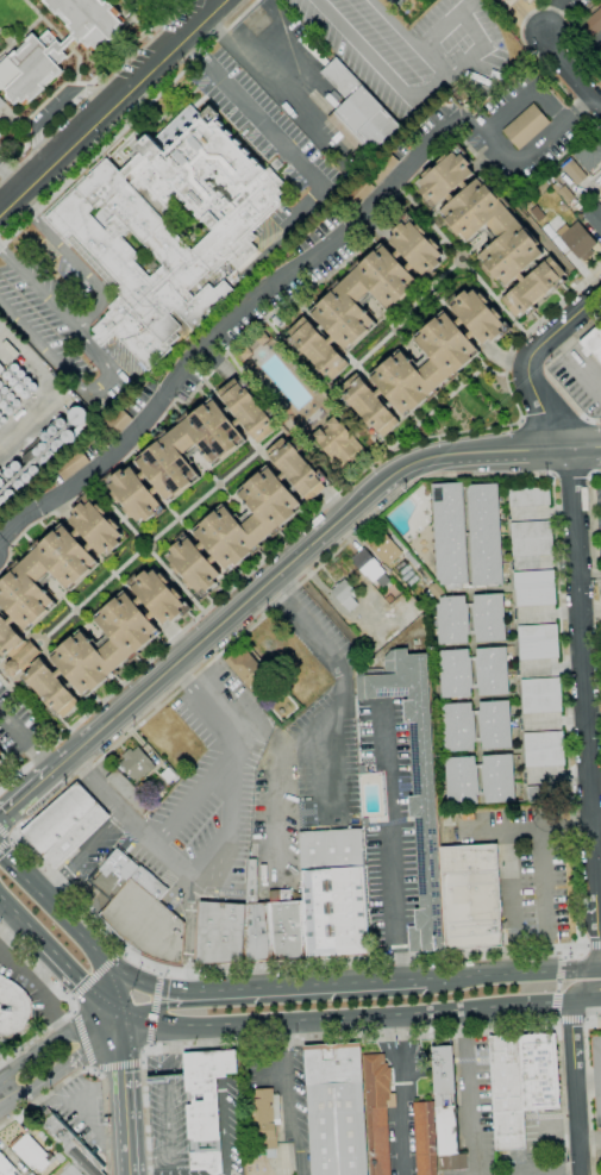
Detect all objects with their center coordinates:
building: (394, 1)
building: (532, 1)
building: (507, 2)
parking lot: (148, 8)
road: (547, 14)
building: (88, 19)
building: (591, 24)
road: (470, 25)
road: (521, 27)
road: (240, 38)
parking lot: (413, 49)
building: (32, 67)
road: (570, 71)
road: (89, 86)
road: (528, 95)
road: (417, 100)
building: (1, 102)
road: (52, 105)
road: (109, 105)
road: (583, 107)
flagpole: (2, 114)
building: (359, 114)
road: (129, 121)
building: (526, 126)
road: (271, 132)
building: (590, 154)
road: (515, 164)
building: (382, 167)
building: (574, 171)
road: (12, 174)
building: (357, 193)
building: (565, 194)
road: (427, 218)
building: (594, 218)
building: (167, 230)
building: (492, 231)
building: (577, 240)
road: (468, 254)
building: (572, 261)
road: (75, 262)
road: (434, 295)
building: (365, 296)
road: (501, 306)
road: (545, 314)
road: (223, 323)
building: (593, 342)
building: (253, 345)
road: (532, 360)
building: (425, 364)
road: (356, 367)
building: (1, 368)
road: (109, 369)
road: (546, 370)
parking lot: (580, 380)
road: (444, 401)
building: (115, 425)
road: (480, 430)
building: (339, 444)
road: (584, 446)
building: (190, 449)
road: (261, 450)
road: (481, 452)
road: (250, 458)
building: (71, 464)
road: (571, 475)
road: (220, 485)
building: (528, 496)
building: (0, 512)
road: (179, 519)
building: (248, 519)
building: (450, 535)
building: (486, 535)
building: (532, 538)
road: (1, 540)
road: (145, 543)
building: (384, 549)
road: (596, 550)
building: (368, 564)
road: (114, 575)
building: (534, 588)
building: (344, 595)
road: (590, 602)
building: (27, 606)
road: (76, 610)
road: (195, 618)
building: (489, 618)
road: (224, 620)
building: (453, 620)
building: (373, 642)
building: (538, 642)
building: (243, 667)
building: (492, 670)
road: (181, 674)
building: (456, 674)
road: (563, 688)
building: (540, 695)
road: (586, 696)
road: (325, 717)
building: (495, 725)
building: (458, 726)
road: (136, 727)
road: (29, 737)
building: (544, 749)
building: (2, 758)
building: (136, 764)
road: (75, 767)
building: (168, 775)
road: (232, 776)
building: (497, 779)
building: (462, 781)
building: (417, 787)
building: (130, 792)
road: (26, 794)
building: (534, 794)
road: (194, 798)
parking lot: (190, 804)
road: (597, 815)
building: (60, 819)
building: (365, 821)
road: (5, 823)
road: (25, 823)
road: (138, 825)
road: (532, 827)
road: (13, 830)
building: (76, 836)
road: (13, 839)
road: (390, 842)
road: (90, 845)
road: (5, 849)
building: (331, 849)
building: (114, 874)
road: (20, 876)
building: (252, 882)
road: (49, 887)
building: (471, 896)
road: (544, 898)
road: (512, 901)
building: (334, 912)
building: (145, 919)
road: (188, 924)
building: (286, 926)
road: (74, 930)
building: (220, 932)
building: (256, 933)
road: (113, 936)
road: (584, 946)
road: (595, 948)
road: (121, 950)
road: (562, 952)
road: (60, 957)
road: (157, 971)
road: (95, 974)
road: (513, 974)
road: (183, 980)
road: (309, 983)
traffic signals: (140, 985)
road: (582, 986)
road: (149, 987)
road: (558, 987)
road: (117, 988)
road: (70, 998)
road: (68, 1000)
road: (586, 1000)
road: (549, 1002)
road: (162, 1007)
building: (13, 1008)
road: (154, 1010)
flagpole: (1, 1012)
road: (405, 1013)
road: (70, 1015)
traffic signals: (124, 1015)
road: (151, 1021)
road: (556, 1021)
road: (584, 1021)
road: (571, 1023)
road: (231, 1024)
road: (561, 1024)
road: (220, 1037)
road: (363, 1037)
road: (52, 1040)
road: (81, 1042)
road: (149, 1045)
road: (143, 1062)
building: (333, 1063)
road: (223, 1064)
road: (67, 1065)
road: (118, 1065)
road: (89, 1068)
road: (93, 1068)
road: (92, 1069)
road: (465, 1071)
building: (539, 1073)
building: (161, 1082)
road: (575, 1087)
road: (589, 1090)
building: (506, 1092)
road: (124, 1095)
road: (165, 1100)
road: (288, 1100)
building: (206, 1105)
building: (445, 1110)
building: (377, 1112)
building: (261, 1121)
road: (225, 1126)
building: (337, 1129)
building: (425, 1138)
building: (70, 1143)
building: (32, 1152)
building: (61, 1157)
road: (205, 1157)
road: (224, 1157)
road: (149, 1161)
building: (6, 1167)
building: (68, 1169)
building: (32, 1174)

